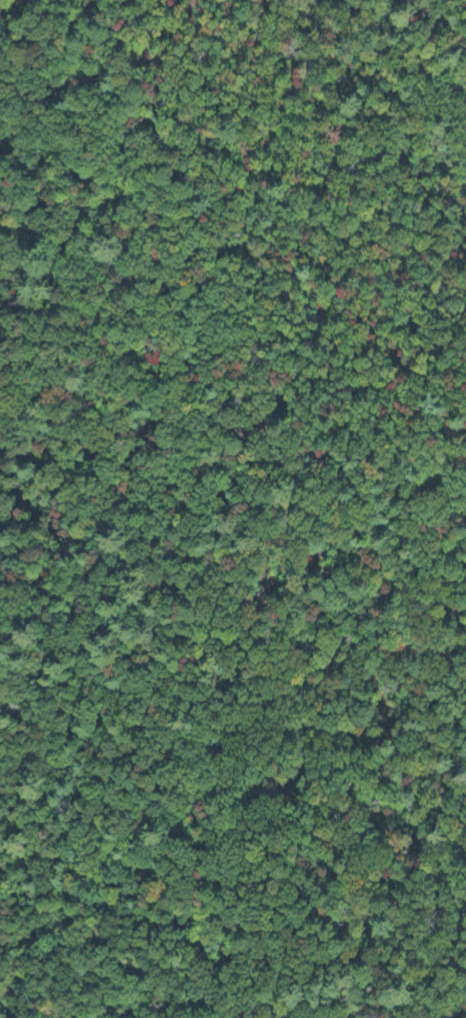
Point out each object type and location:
road: (393, 808)

